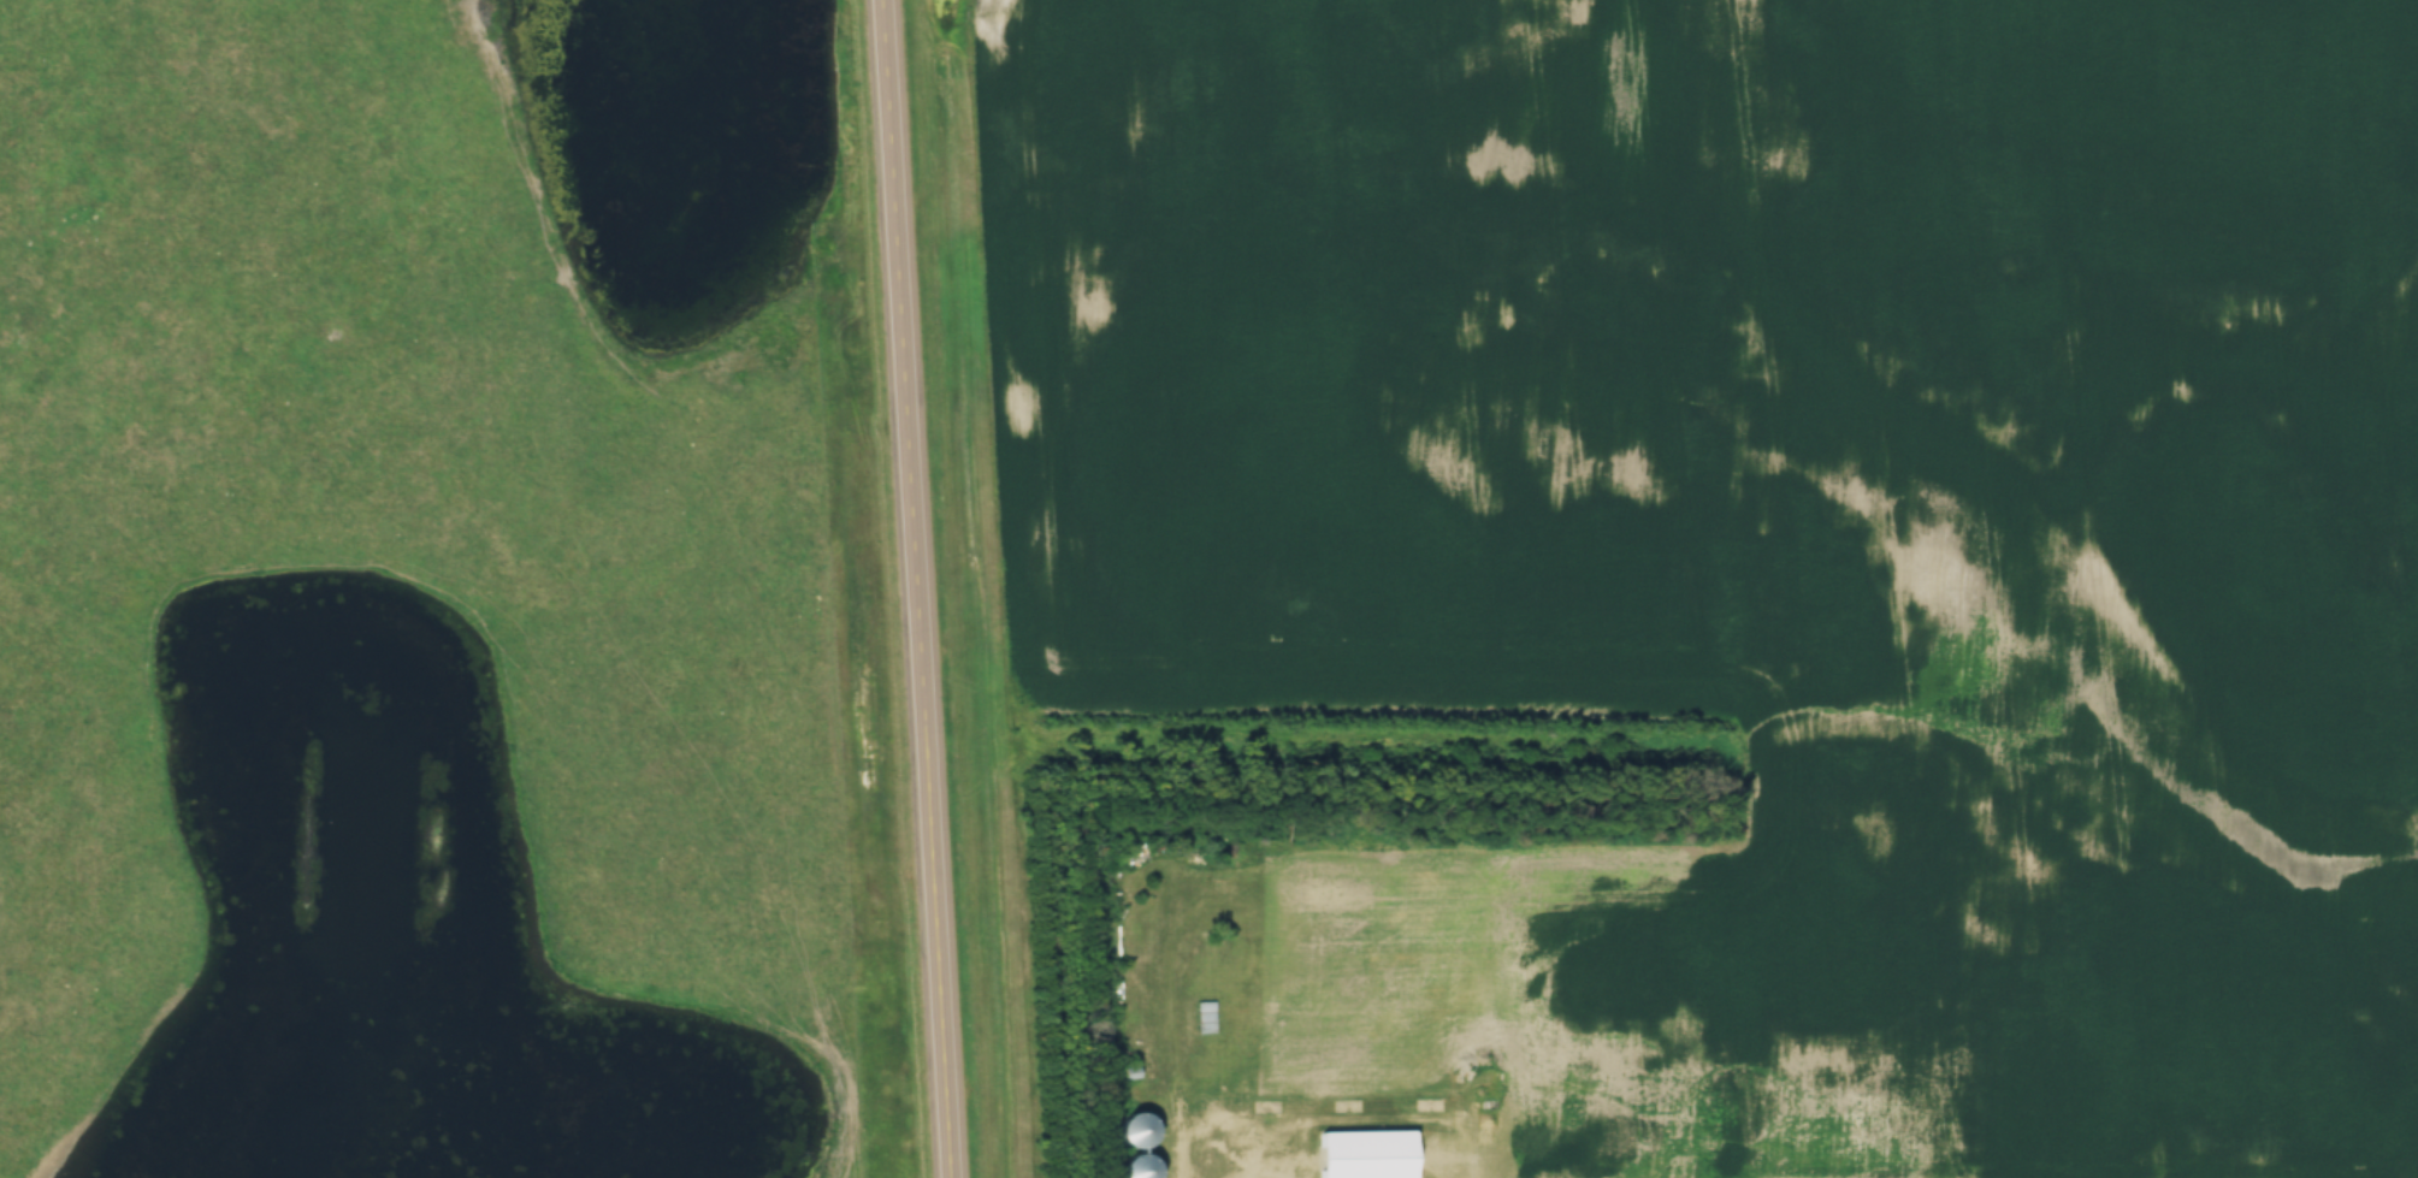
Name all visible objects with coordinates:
road: (918, 588)
building: (1205, 1017)
building: (1134, 1127)
building: (1364, 1154)
building: (1135, 1166)

